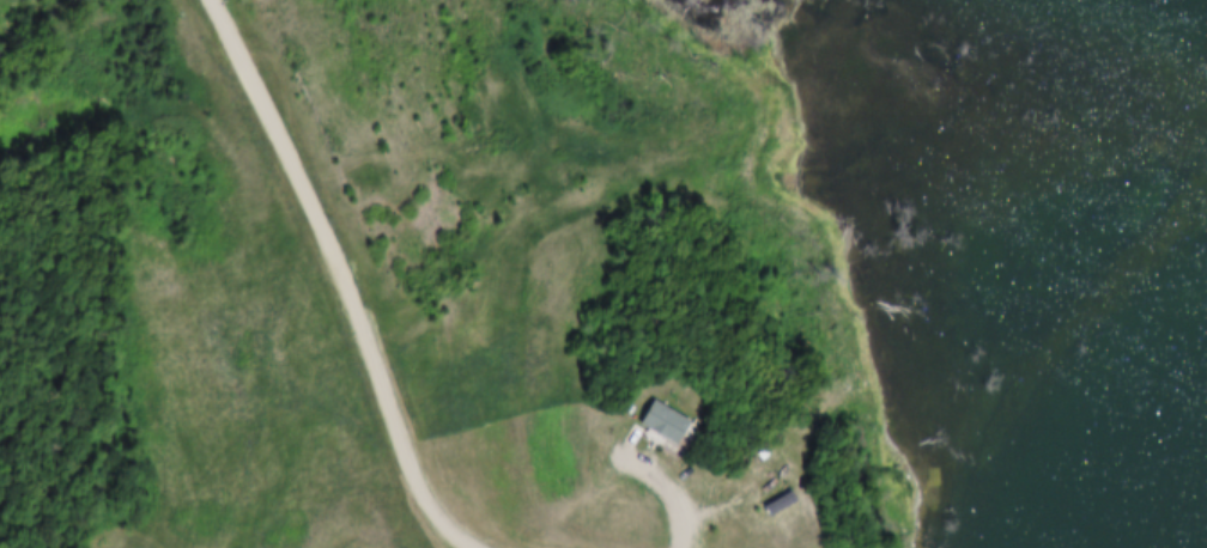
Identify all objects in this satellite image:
road: (345, 275)
building: (639, 418)
building: (663, 425)
road: (651, 487)
building: (756, 498)

